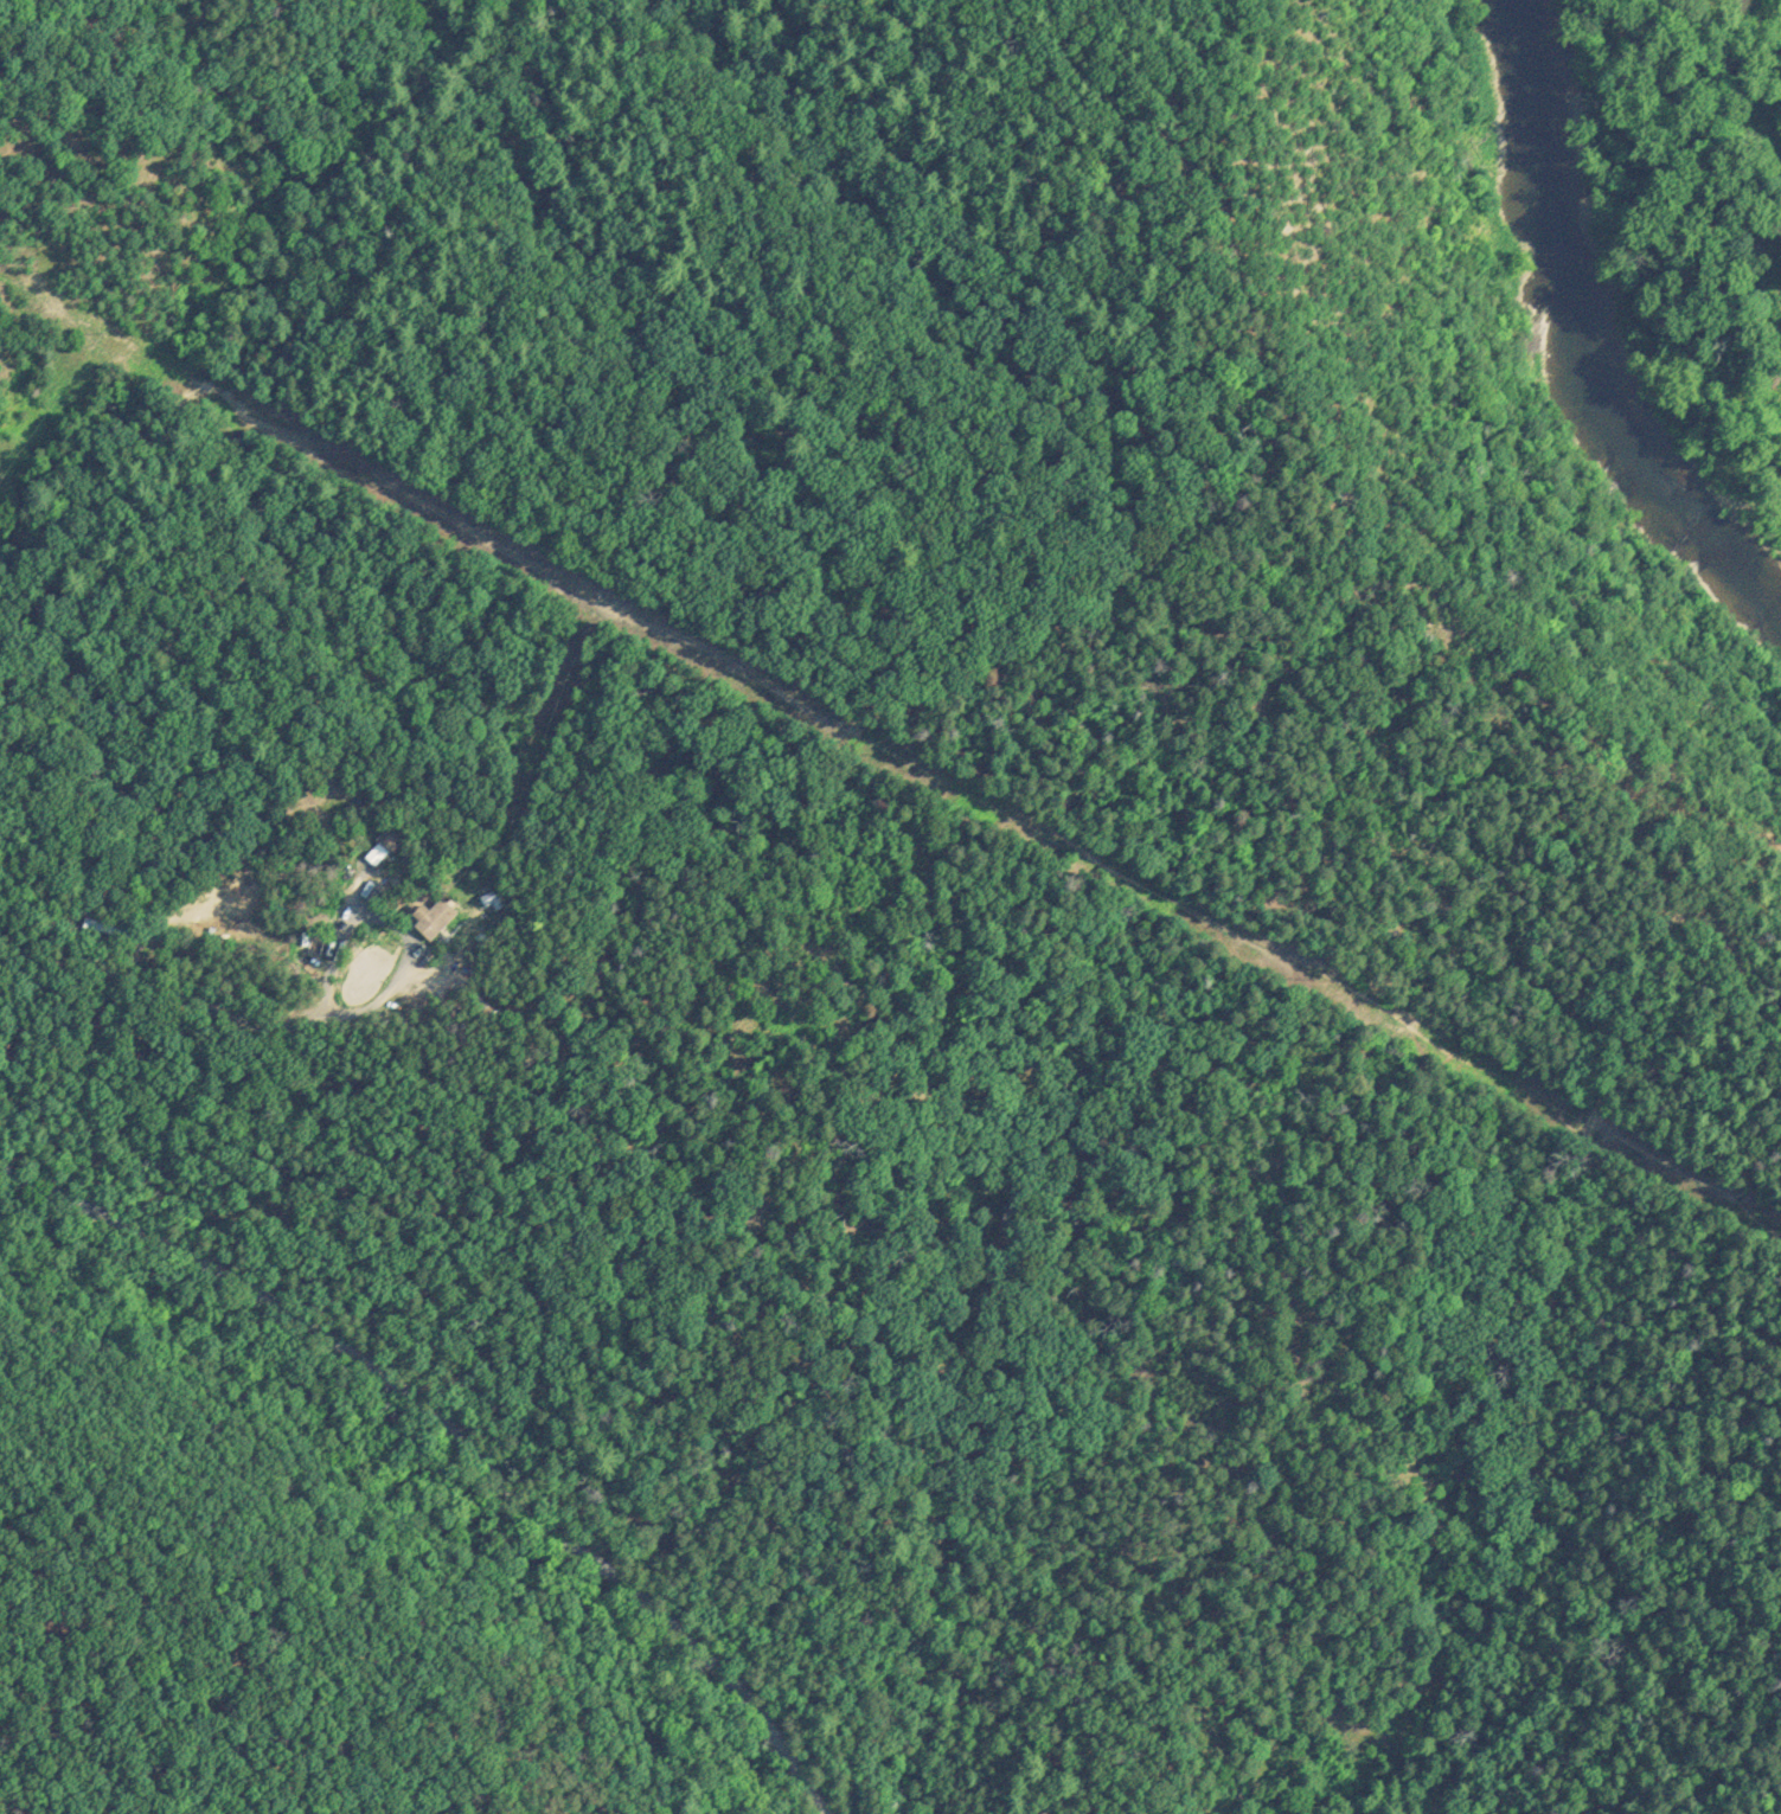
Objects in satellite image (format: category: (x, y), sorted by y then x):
river: (1632, 312)
building: (382, 846)
building: (431, 917)
road: (473, 1416)

